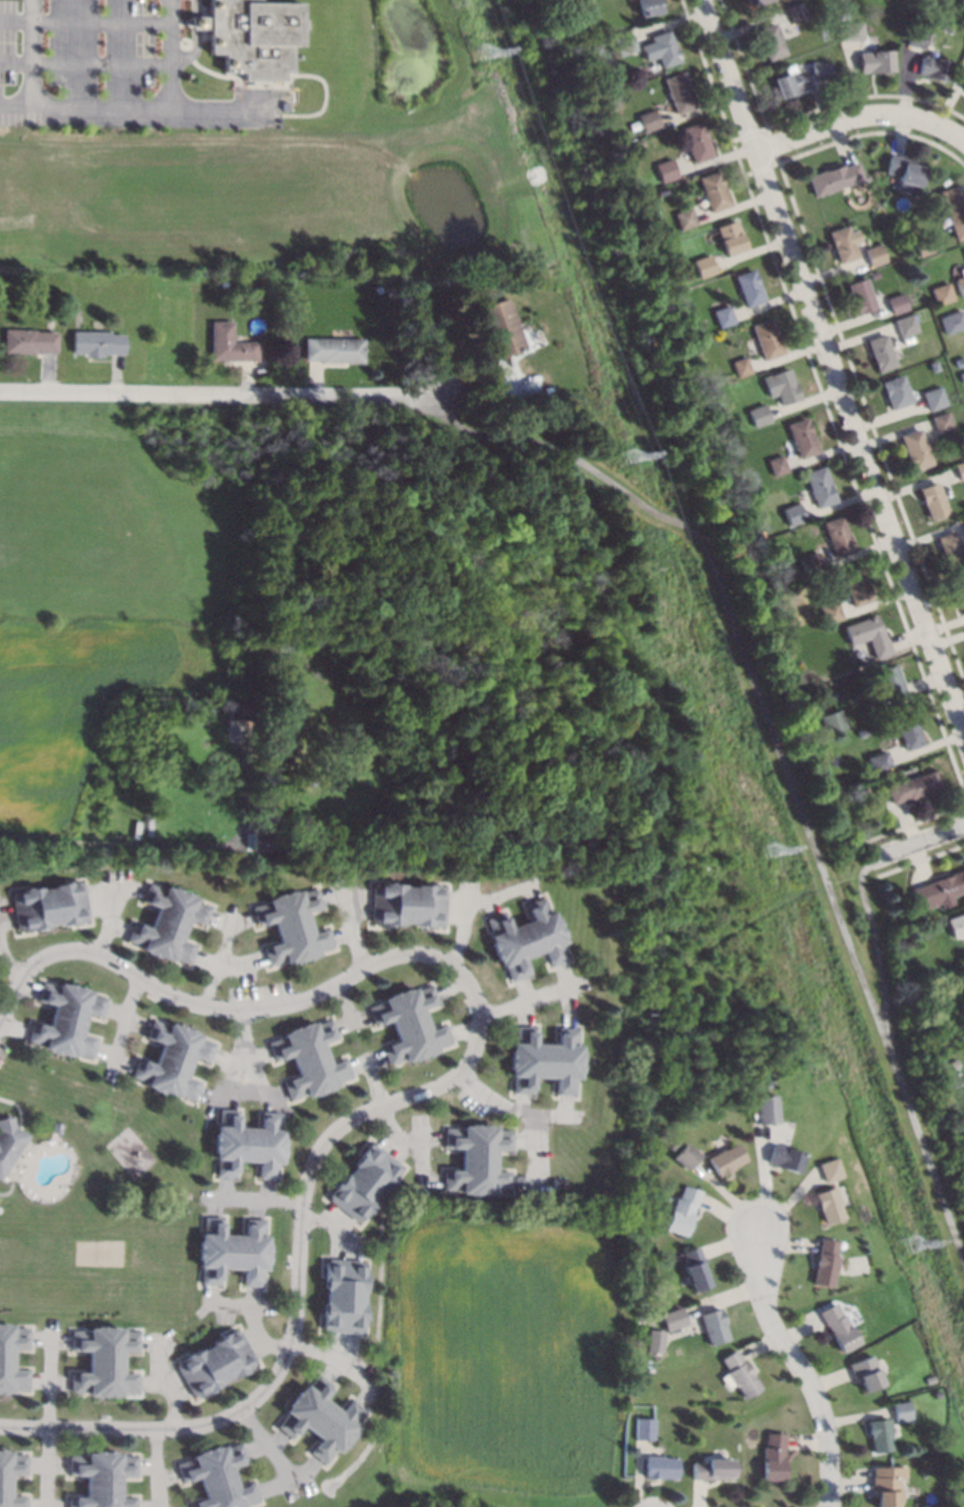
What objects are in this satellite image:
building: (939, 0)
building: (929, 1)
building: (750, 2)
building: (647, 7)
road: (194, 8)
building: (795, 12)
building: (841, 16)
road: (84, 21)
road: (194, 22)
building: (849, 30)
building: (251, 36)
building: (914, 37)
building: (768, 40)
building: (621, 43)
building: (663, 48)
building: (593, 49)
road: (190, 51)
road: (31, 52)
road: (169, 53)
building: (823, 59)
building: (873, 60)
road: (84, 64)
building: (931, 68)
parking lot: (98, 70)
building: (817, 70)
building: (788, 82)
building: (962, 85)
building: (678, 92)
road: (139, 106)
road: (861, 113)
building: (647, 119)
building: (695, 141)
building: (636, 143)
building: (665, 169)
building: (902, 169)
building: (832, 177)
building: (713, 190)
building: (952, 210)
building: (685, 218)
building: (729, 237)
building: (841, 243)
building: (924, 246)
building: (963, 251)
building: (872, 254)
building: (704, 266)
building: (960, 281)
building: (222, 282)
building: (748, 287)
building: (941, 293)
building: (859, 295)
building: (895, 303)
building: (722, 315)
building: (952, 321)
building: (904, 325)
building: (499, 327)
building: (766, 338)
building: (26, 340)
building: (95, 342)
building: (227, 343)
building: (332, 349)
building: (880, 352)
building: (959, 361)
building: (933, 365)
building: (740, 366)
road: (834, 370)
building: (962, 376)
building: (780, 386)
road: (222, 392)
building: (895, 392)
building: (933, 398)
building: (757, 414)
building: (941, 420)
building: (801, 437)
building: (915, 449)
building: (775, 464)
building: (960, 469)
building: (819, 486)
building: (933, 500)
park: (319, 513)
building: (792, 513)
building: (962, 519)
building: (761, 530)
building: (836, 535)
building: (950, 549)
building: (808, 562)
building: (854, 585)
building: (959, 589)
building: (829, 611)
building: (866, 635)
building: (888, 682)
crop: (81, 693)
building: (234, 720)
building: (833, 721)
building: (861, 731)
building: (908, 731)
building: (277, 742)
road: (779, 759)
building: (877, 760)
park: (785, 780)
building: (912, 787)
building: (864, 788)
building: (147, 826)
building: (309, 827)
building: (321, 828)
building: (270, 832)
road: (922, 845)
building: (268, 846)
road: (173, 847)
building: (309, 851)
building: (940, 890)
building: (407, 904)
building: (49, 905)
building: (909, 908)
building: (167, 923)
building: (900, 924)
building: (956, 924)
building: (291, 926)
road: (350, 929)
building: (525, 938)
road: (875, 947)
road: (221, 961)
building: (921, 973)
road: (342, 1004)
road: (520, 1004)
road: (225, 1008)
building: (66, 1019)
building: (945, 1022)
building: (408, 1024)
building: (308, 1058)
building: (172, 1059)
building: (543, 1060)
building: (954, 1063)
road: (375, 1082)
building: (763, 1083)
road: (503, 1106)
building: (764, 1109)
building: (53, 1127)
road: (418, 1134)
building: (8, 1141)
building: (246, 1143)
road: (407, 1143)
building: (673, 1143)
road: (532, 1147)
building: (685, 1156)
building: (782, 1157)
building: (477, 1159)
building: (724, 1159)
building: (828, 1169)
building: (364, 1181)
road: (259, 1201)
building: (826, 1205)
building: (681, 1210)
road: (334, 1223)
building: (231, 1250)
building: (823, 1263)
building: (694, 1267)
road: (299, 1291)
building: (342, 1295)
building: (673, 1318)
building: (713, 1326)
building: (836, 1327)
building: (655, 1341)
building: (6, 1358)
building: (103, 1361)
building: (214, 1362)
road: (797, 1365)
building: (865, 1373)
building: (737, 1374)
building: (929, 1379)
building: (936, 1393)
building: (900, 1410)
building: (320, 1417)
building: (645, 1429)
building: (879, 1434)
building: (773, 1457)
building: (660, 1467)
building: (712, 1468)
building: (216, 1476)
building: (101, 1478)
building: (5, 1484)
building: (885, 1485)
building: (924, 1506)

